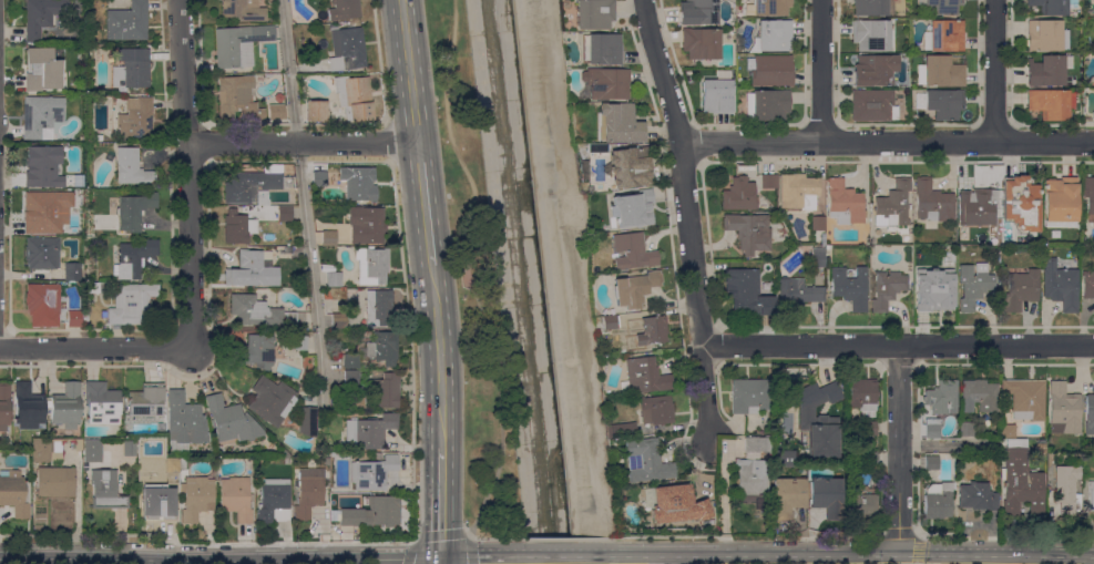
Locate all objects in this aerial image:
building: (941, 6)
building: (768, 7)
building: (1050, 7)
building: (873, 8)
building: (344, 9)
building: (243, 10)
building: (699, 12)
building: (594, 13)
building: (37, 19)
building: (127, 22)
building: (870, 34)
building: (774, 35)
building: (945, 35)
building: (1046, 35)
building: (701, 43)
building: (239, 44)
building: (346, 49)
building: (602, 49)
road: (378, 62)
building: (132, 69)
building: (41, 70)
building: (769, 70)
building: (875, 70)
building: (1044, 70)
road: (409, 71)
road: (822, 71)
road: (996, 71)
building: (939, 72)
building: (604, 84)
building: (716, 96)
building: (278, 98)
building: (354, 98)
building: (237, 99)
building: (943, 104)
building: (767, 105)
building: (872, 105)
building: (1049, 105)
building: (315, 111)
building: (276, 112)
building: (41, 116)
building: (1093, 116)
building: (136, 119)
road: (340, 124)
building: (618, 124)
road: (448, 133)
building: (96, 137)
building: (81, 140)
road: (887, 142)
road: (301, 143)
road: (388, 143)
building: (597, 148)
building: (42, 162)
road: (345, 162)
building: (630, 167)
building: (132, 168)
road: (187, 174)
building: (768, 181)
building: (71, 182)
building: (349, 184)
building: (253, 185)
building: (798, 192)
building: (738, 195)
building: (1088, 195)
road: (303, 197)
building: (1060, 199)
road: (425, 201)
building: (932, 202)
building: (843, 203)
building: (979, 204)
building: (1021, 204)
building: (892, 205)
building: (43, 207)
building: (631, 208)
building: (129, 214)
building: (285, 214)
road: (688, 219)
building: (817, 223)
building: (366, 225)
building: (238, 227)
building: (72, 228)
building: (783, 232)
building: (749, 233)
building: (329, 237)
building: (828, 247)
road: (552, 250)
building: (632, 252)
building: (42, 253)
building: (818, 257)
building: (134, 258)
building: (376, 265)
building: (249, 270)
building: (71, 271)
building: (334, 279)
park: (472, 283)
building: (973, 285)
building: (1060, 285)
building: (1087, 285)
building: (850, 287)
building: (887, 289)
building: (637, 290)
building: (1020, 290)
building: (937, 291)
building: (745, 293)
building: (796, 294)
building: (350, 297)
building: (42, 305)
building: (133, 305)
building: (381, 309)
building: (258, 311)
building: (84, 317)
building: (73, 318)
building: (338, 321)
building: (610, 322)
building: (648, 330)
building: (366, 335)
building: (298, 342)
road: (898, 346)
road: (96, 349)
building: (375, 350)
road: (410, 350)
building: (258, 351)
road: (439, 352)
building: (645, 376)
building: (350, 378)
building: (1093, 383)
building: (387, 390)
building: (749, 396)
building: (979, 396)
building: (862, 397)
building: (942, 397)
road: (499, 399)
building: (1025, 399)
building: (146, 400)
building: (272, 401)
building: (101, 403)
building: (4, 406)
building: (65, 406)
building: (28, 407)
building: (656, 410)
building: (1063, 410)
building: (1088, 414)
building: (818, 419)
building: (184, 420)
building: (231, 421)
building: (307, 421)
building: (868, 428)
building: (931, 428)
building: (967, 429)
building: (621, 430)
building: (369, 431)
building: (1008, 431)
building: (800, 438)
building: (755, 444)
building: (44, 449)
building: (129, 449)
road: (898, 449)
building: (93, 451)
building: (785, 458)
building: (869, 459)
building: (327, 461)
building: (646, 461)
building: (182, 463)
building: (931, 463)
building: (372, 473)
building: (752, 476)
building: (1020, 481)
building: (55, 482)
building: (620, 483)
building: (106, 490)
building: (1066, 490)
road: (723, 492)
building: (13, 493)
building: (309, 494)
building: (788, 496)
building: (827, 496)
building: (977, 496)
building: (1091, 496)
building: (196, 498)
building: (236, 499)
building: (274, 500)
building: (938, 500)
building: (334, 502)
road: (442, 502)
building: (160, 503)
building: (675, 504)
building: (760, 504)
building: (862, 505)
building: (370, 512)
road: (898, 534)
road: (1003, 535)
road: (442, 536)
road: (834, 536)
road: (594, 539)
road: (205, 543)
road: (723, 543)
road: (918, 550)
road: (855, 553)
road: (478, 554)
road: (565, 554)
traffic signals: (442, 556)
road: (93, 557)
road: (315, 557)
road: (674, 558)
road: (441, 560)
road: (917, 563)

